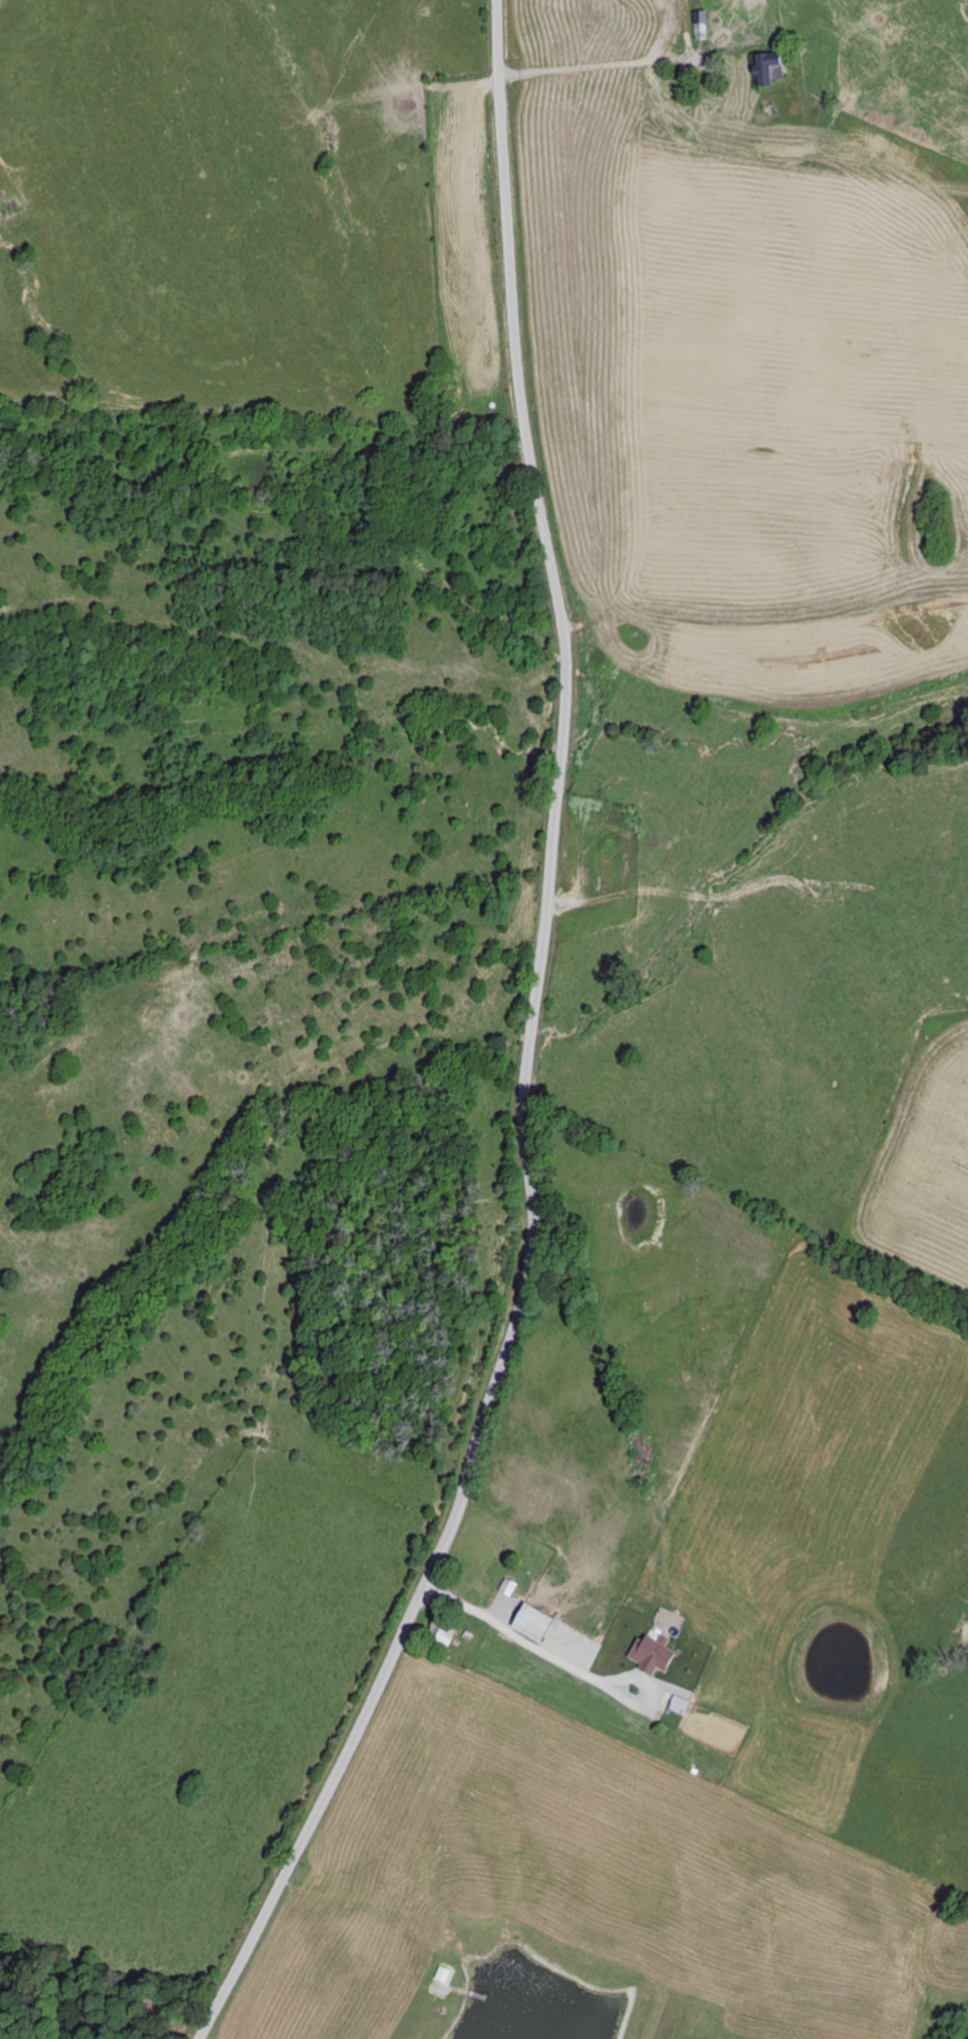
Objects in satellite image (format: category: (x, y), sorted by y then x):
building: (773, 69)
building: (625, 654)
road: (527, 1051)
building: (509, 1587)
building: (537, 1623)
building: (444, 1630)
building: (681, 1705)

